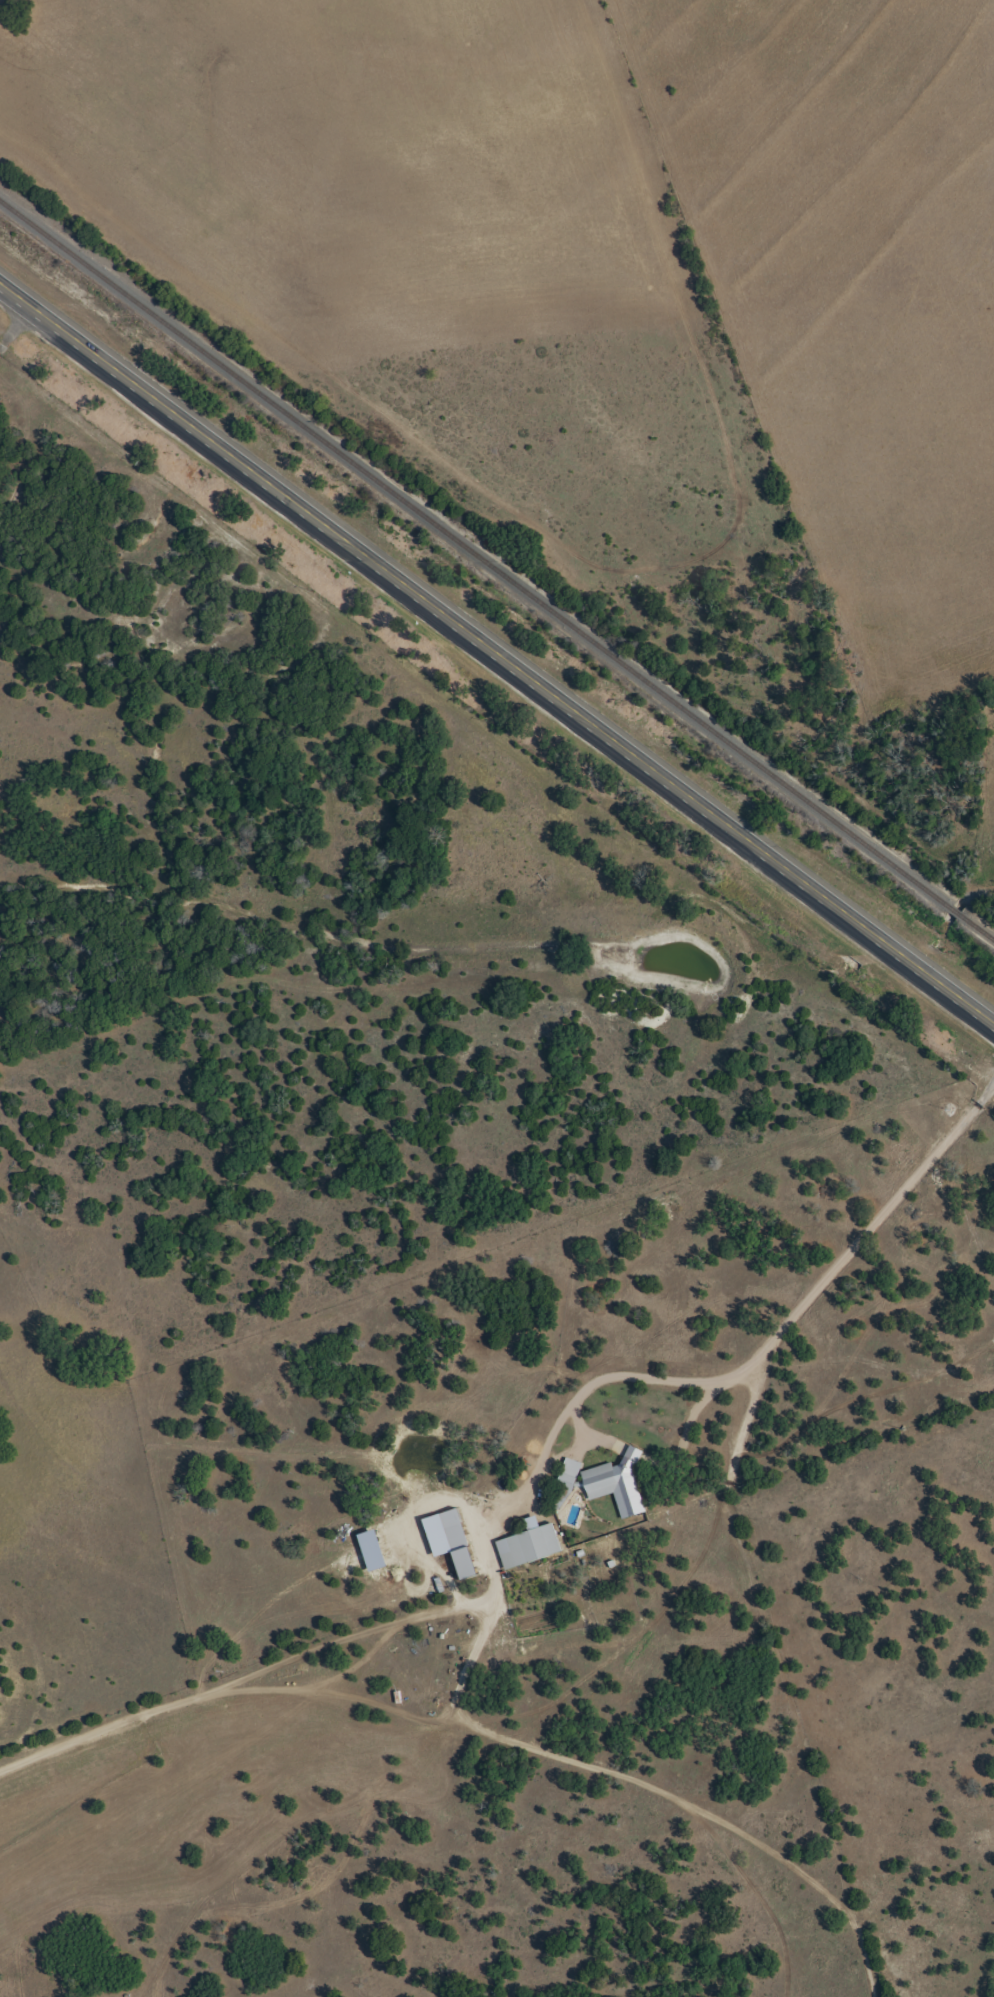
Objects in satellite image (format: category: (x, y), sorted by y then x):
railway: (497, 571)
road: (497, 652)
building: (566, 1481)
building: (616, 1484)
building: (527, 1546)

